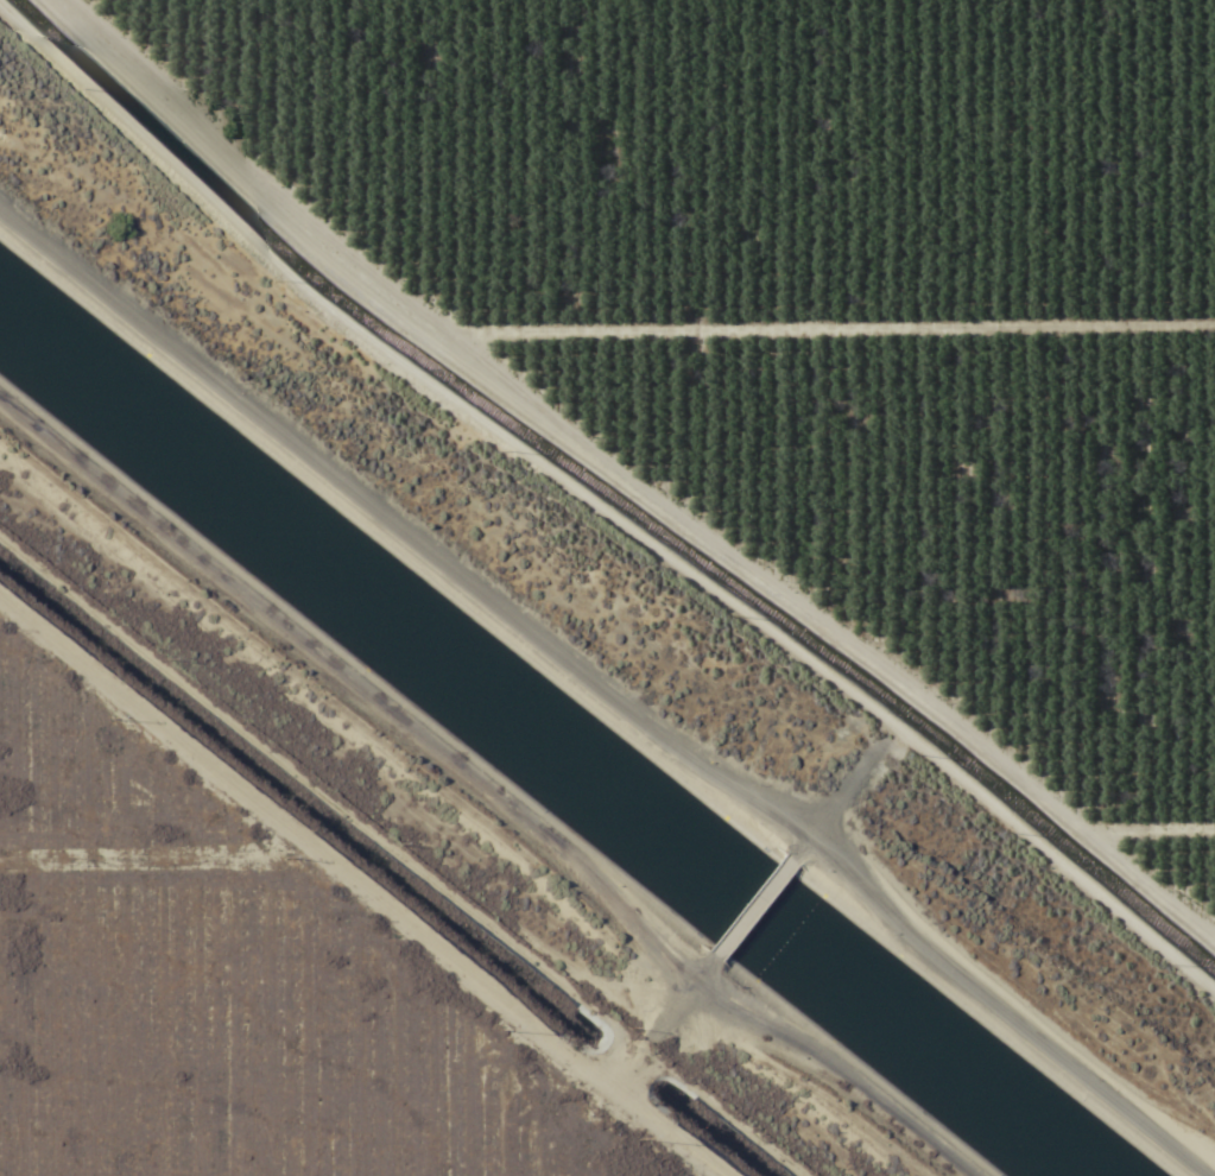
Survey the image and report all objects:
road: (489, 786)
road: (1015, 976)

